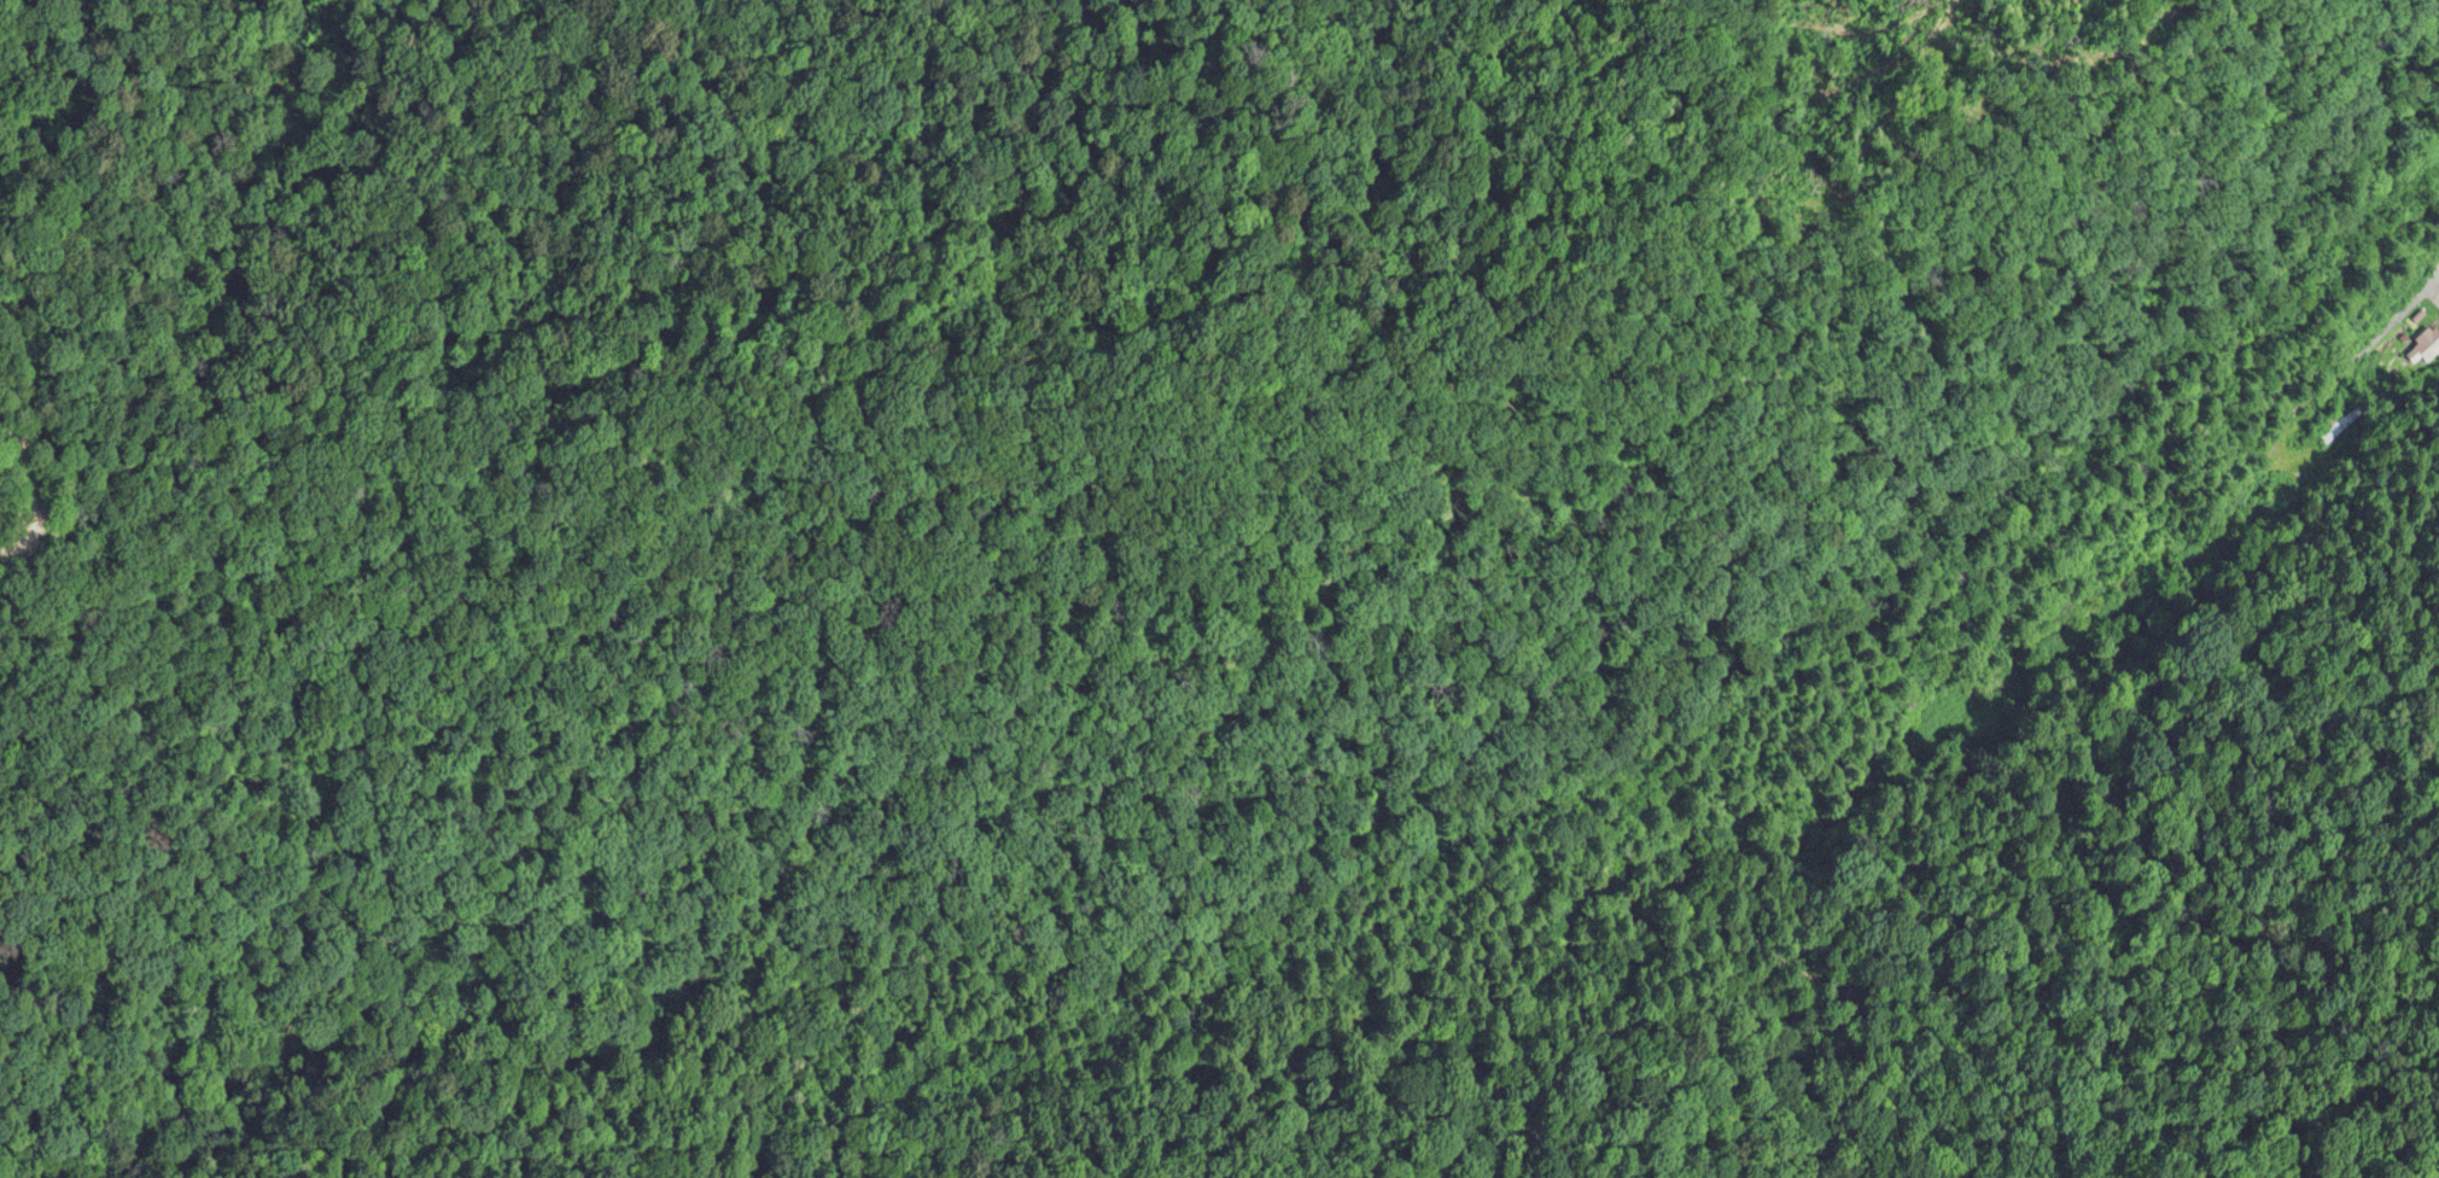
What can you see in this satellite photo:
road: (2379, 422)

